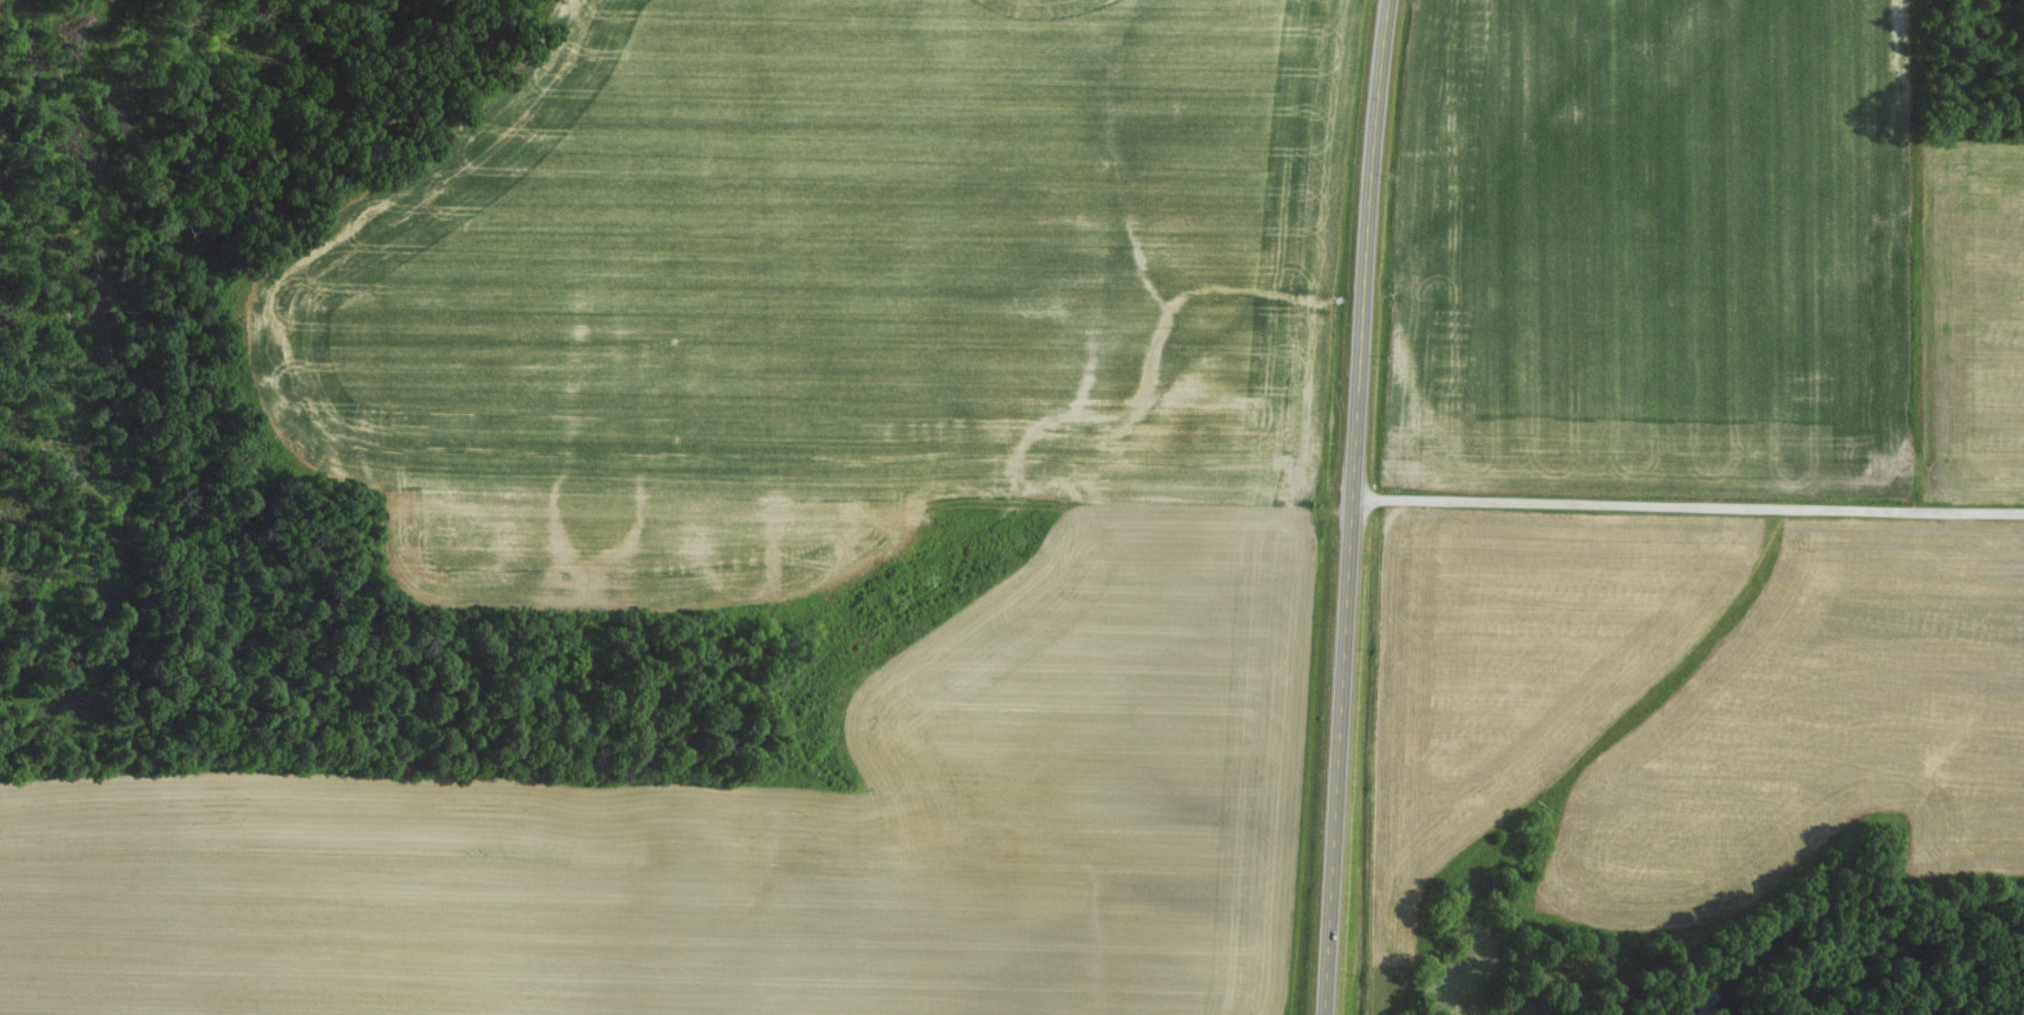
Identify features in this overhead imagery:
road: (1687, 506)
road: (1350, 507)

